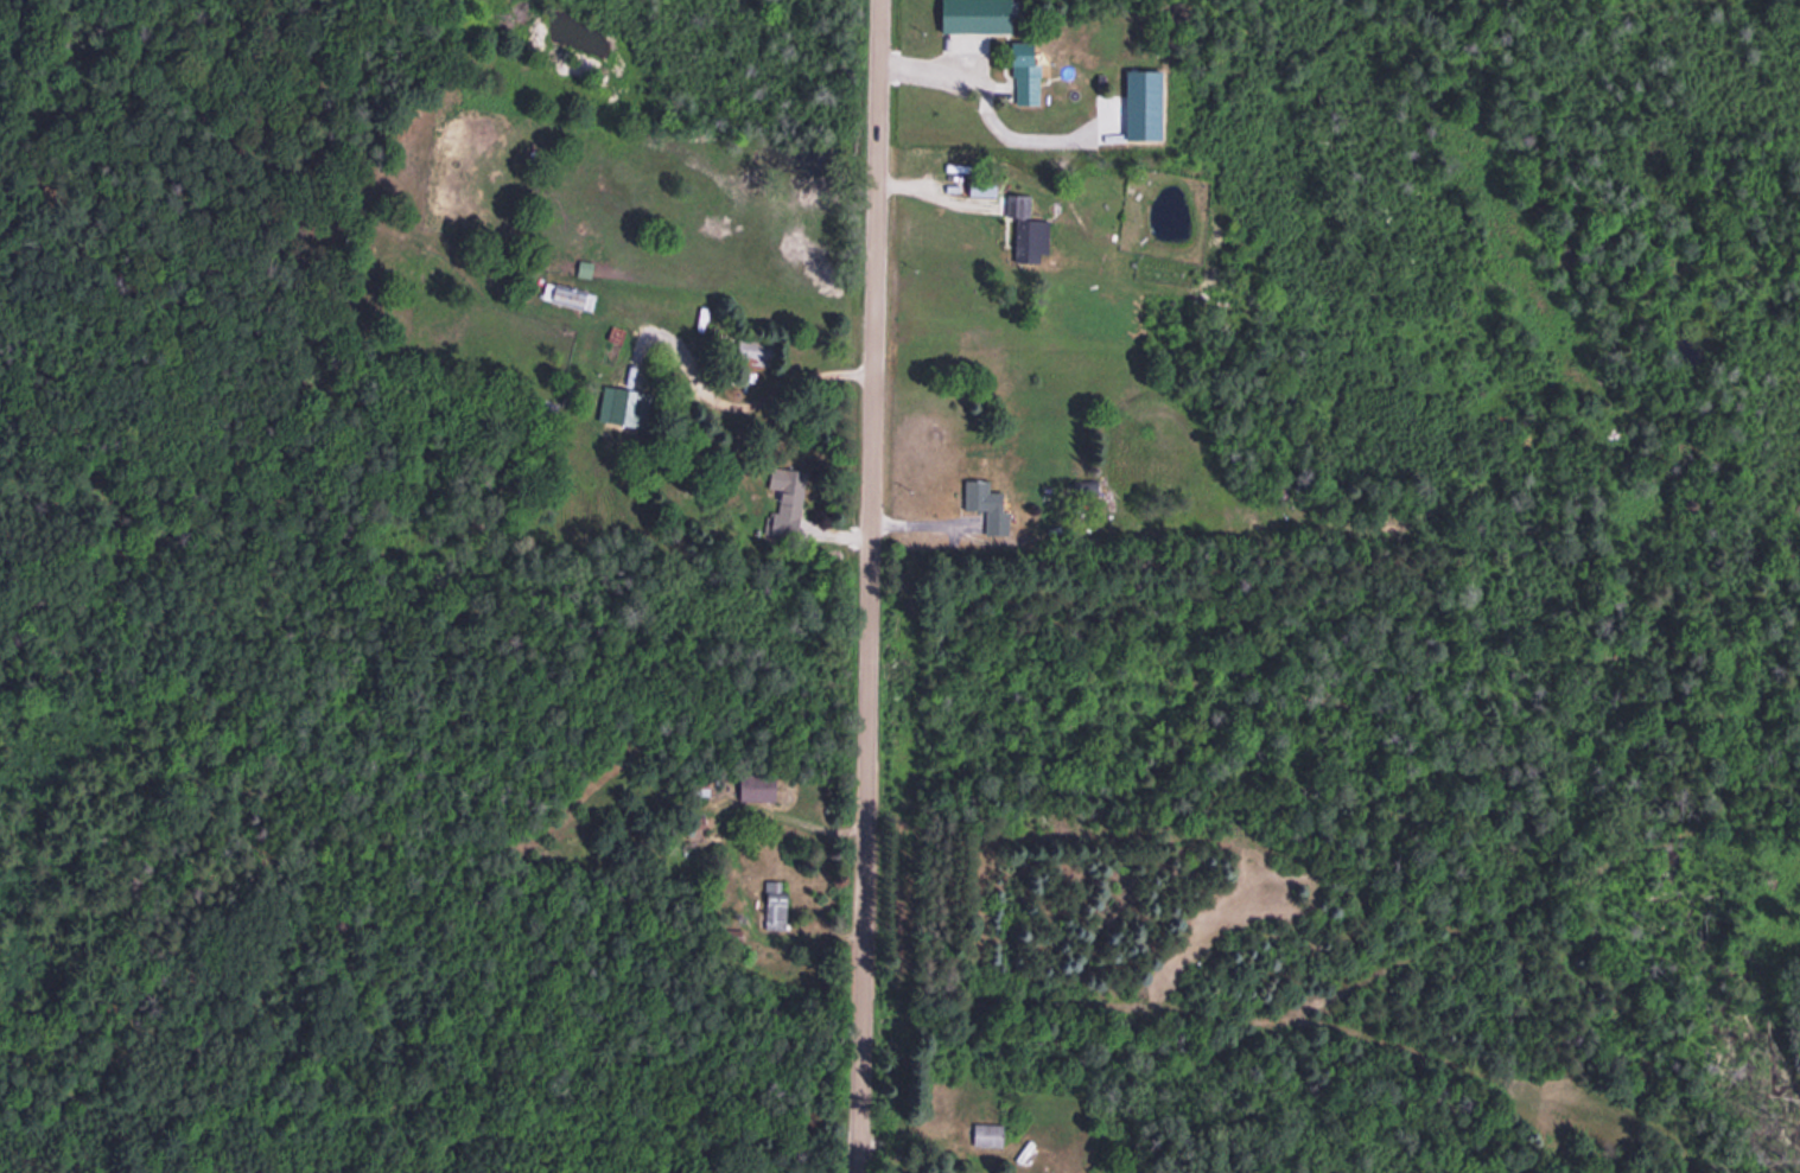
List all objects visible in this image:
building: (967, 14)
building: (1020, 72)
building: (1023, 231)
building: (566, 295)
building: (784, 498)
building: (981, 504)
road: (871, 586)
building: (752, 788)
building: (771, 905)
building: (985, 1134)

